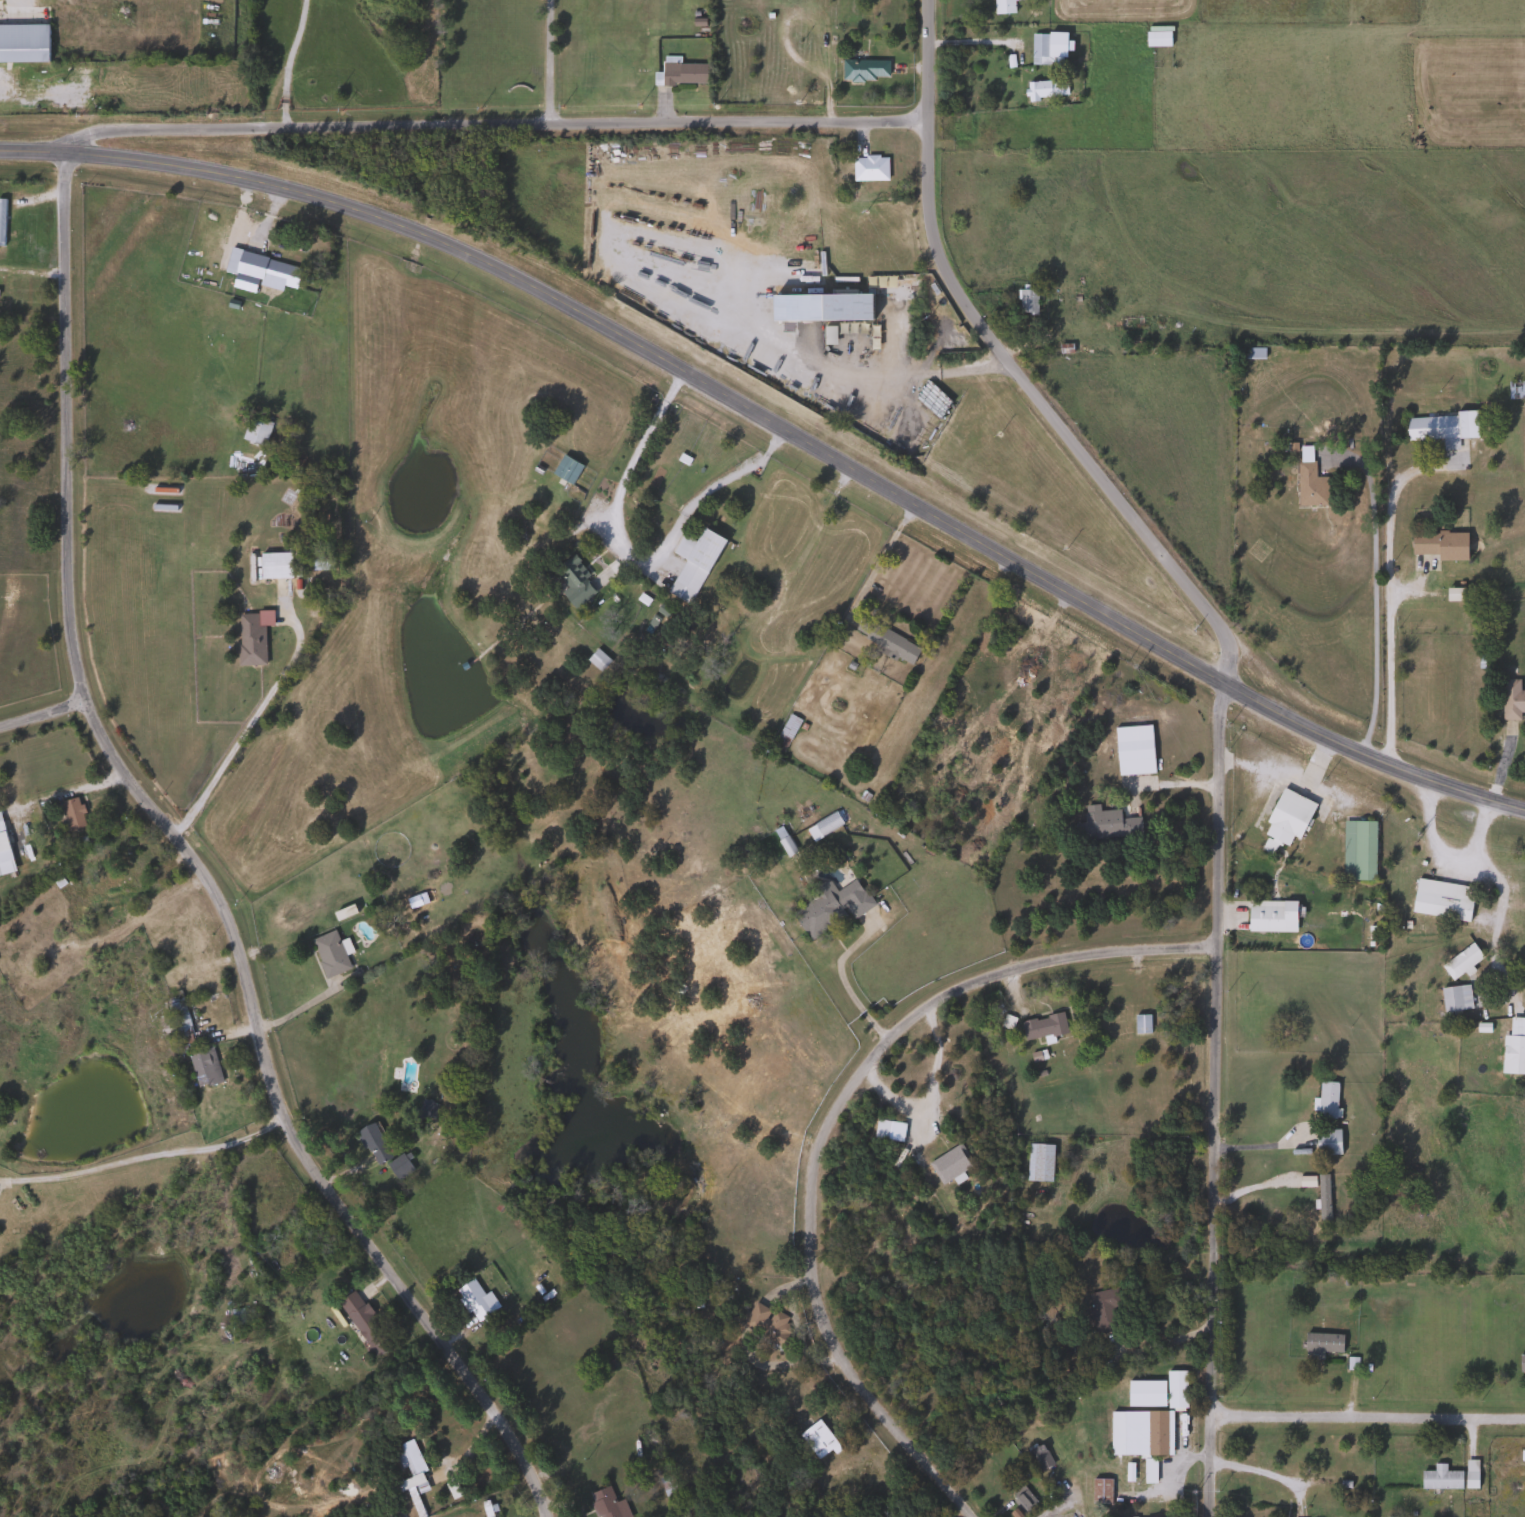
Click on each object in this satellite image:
road: (16, 1)
building: (999, 6)
building: (1154, 38)
road: (969, 42)
building: (22, 43)
building: (1045, 48)
road: (923, 61)
road: (286, 62)
road: (546, 62)
building: (861, 68)
building: (680, 73)
building: (1043, 89)
road: (488, 125)
building: (867, 168)
building: (0, 221)
building: (262, 275)
building: (1027, 301)
building: (1126, 322)
building: (933, 334)
building: (1249, 353)
road: (927, 372)
building: (1438, 427)
road: (780, 428)
building: (255, 432)
building: (563, 469)
building: (1308, 486)
building: (1436, 546)
road: (632, 558)
road: (879, 558)
building: (318, 562)
building: (690, 564)
building: (272, 565)
building: (572, 583)
road: (1373, 591)
road: (1386, 601)
building: (247, 641)
building: (888, 645)
building: (595, 660)
building: (1511, 701)
road: (41, 715)
building: (782, 735)
road: (235, 741)
building: (1131, 750)
road: (1217, 769)
building: (70, 813)
building: (1284, 821)
building: (1104, 825)
building: (784, 846)
building: (1356, 849)
road: (1446, 855)
building: (3, 856)
road: (192, 866)
building: (1440, 900)
building: (828, 907)
building: (1269, 916)
road: (1496, 920)
building: (327, 955)
building: (1459, 961)
building: (1453, 998)
road: (852, 999)
building: (176, 1018)
building: (1139, 1024)
building: (1042, 1028)
building: (1513, 1048)
building: (202, 1068)
building: (1325, 1101)
building: (422, 1109)
road: (932, 1110)
road: (823, 1118)
road: (1264, 1143)
building: (1325, 1143)
building: (372, 1144)
road: (143, 1157)
building: (1036, 1163)
building: (948, 1164)
building: (397, 1168)
building: (538, 1278)
building: (475, 1300)
building: (1103, 1310)
building: (234, 1319)
building: (362, 1323)
building: (1319, 1345)
building: (1520, 1364)
building: (1173, 1389)
building: (1143, 1394)
road: (1364, 1416)
building: (1136, 1433)
building: (816, 1440)
building: (1521, 1456)
building: (1038, 1457)
building: (1147, 1471)
road: (1259, 1471)
building: (410, 1475)
building: (1438, 1478)
building: (667, 1490)
building: (1099, 1491)
building: (1021, 1501)
building: (603, 1503)

